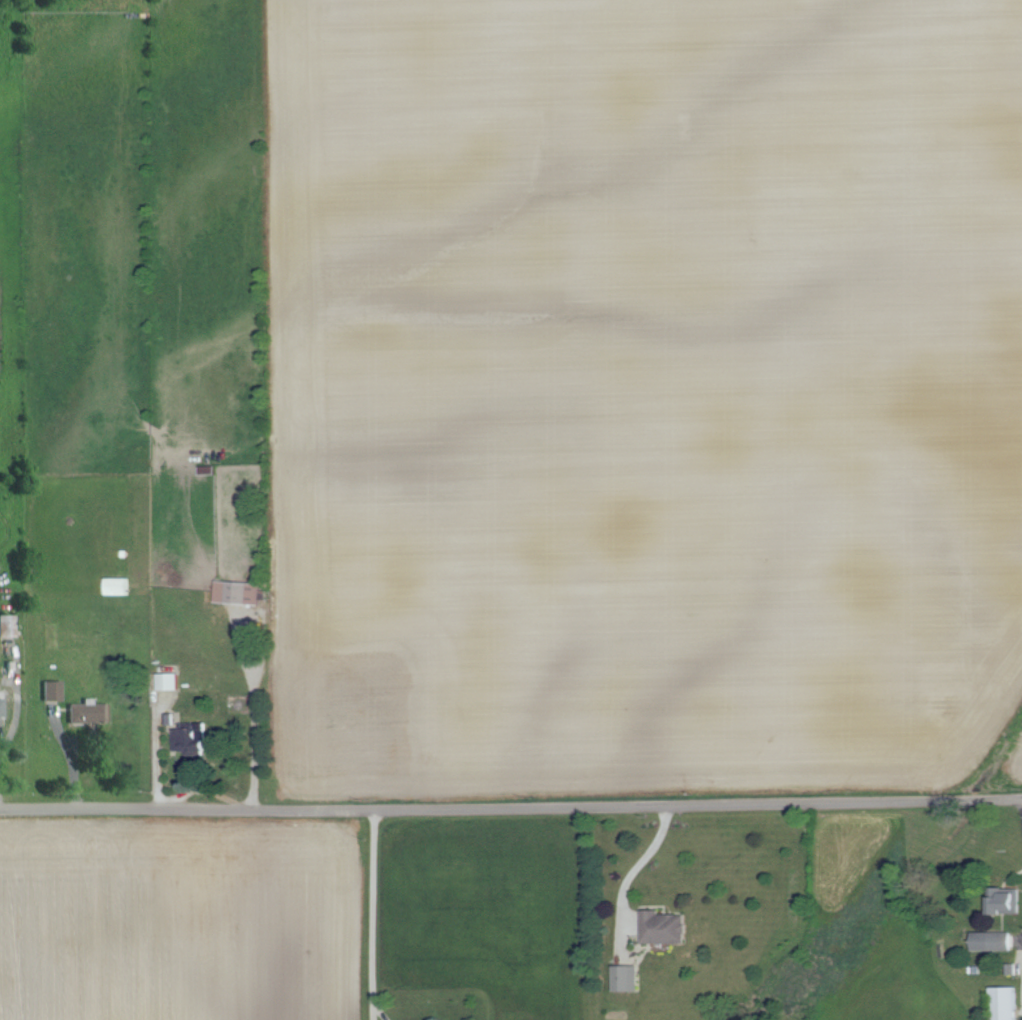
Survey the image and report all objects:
building: (118, 585)
building: (239, 592)
building: (7, 625)
building: (171, 680)
building: (53, 690)
building: (2, 708)
building: (90, 712)
building: (193, 738)
road: (511, 804)
road: (629, 866)
building: (1007, 903)
road: (369, 906)
building: (665, 926)
road: (1012, 935)
building: (994, 940)
building: (627, 977)
building: (1006, 1003)
road: (374, 1009)

